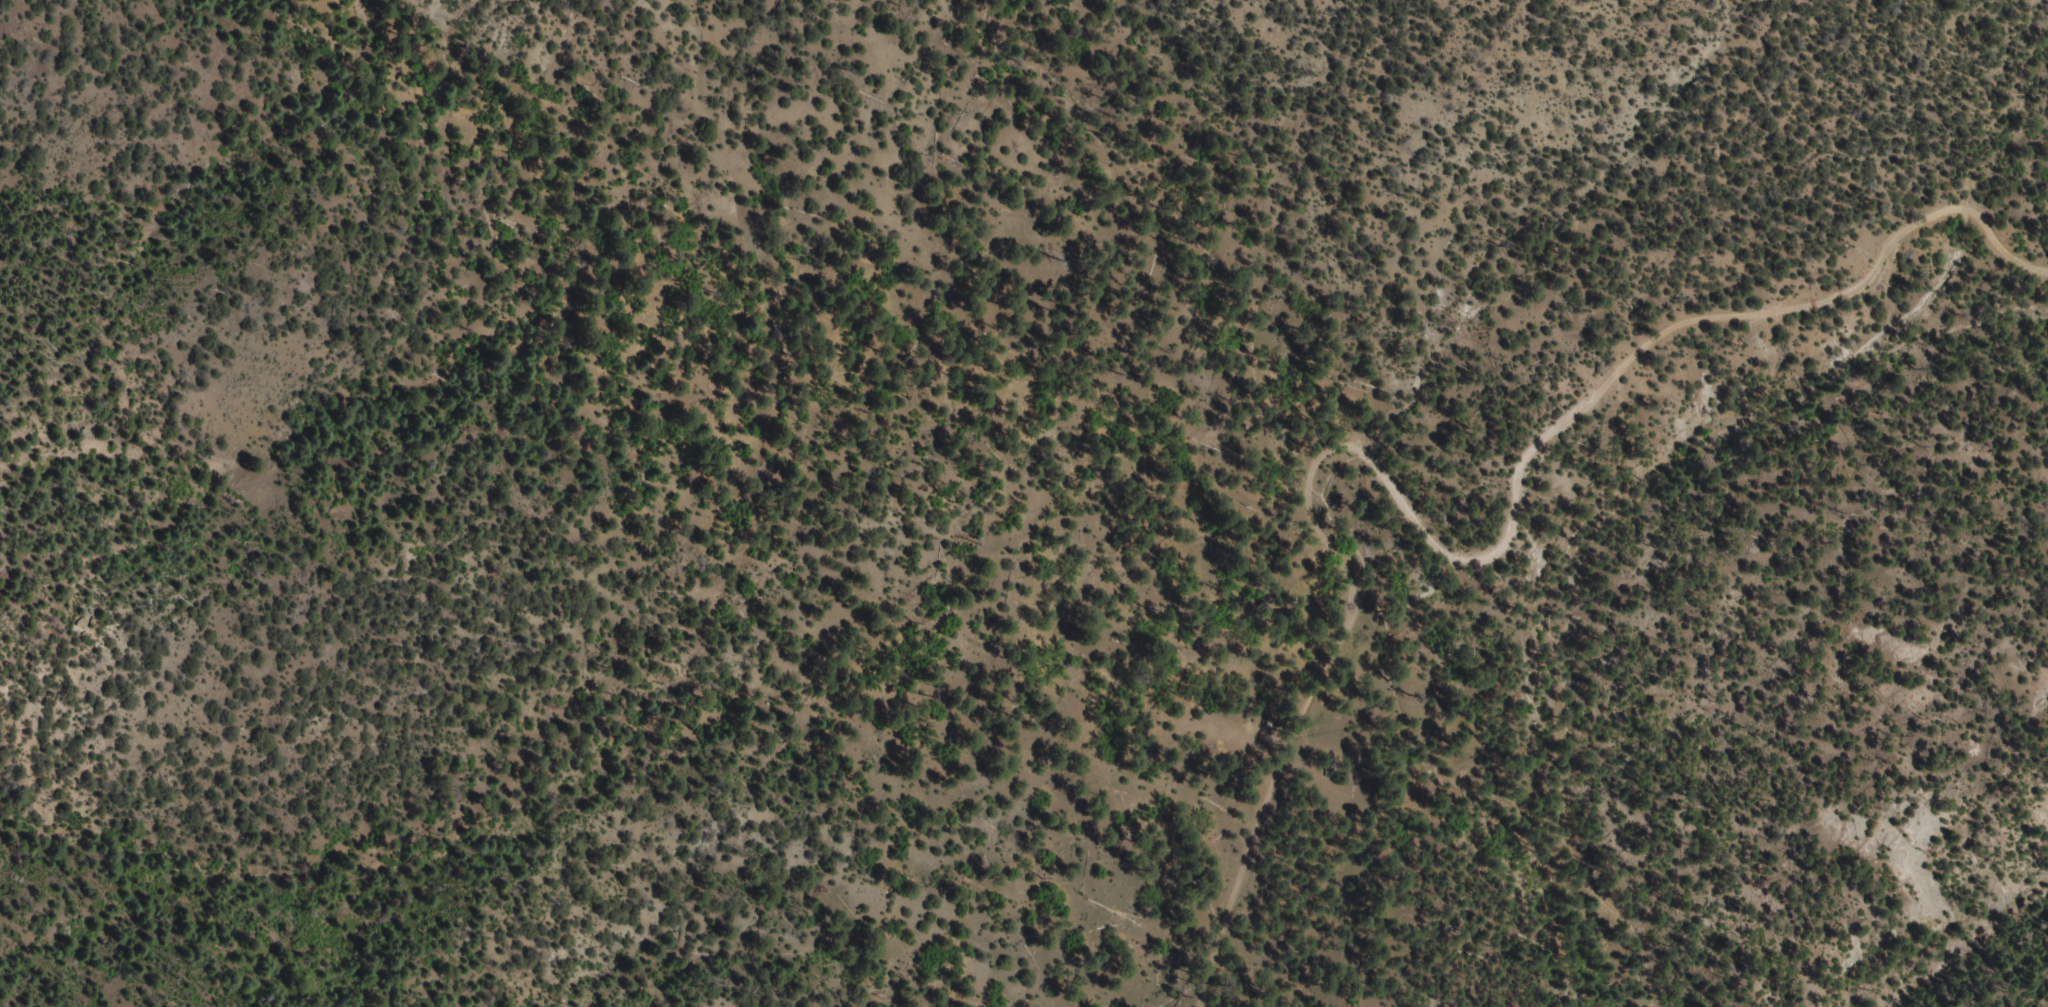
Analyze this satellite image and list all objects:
road: (1989, 150)
road: (1453, 560)
building: (1328, 767)
road: (1488, 830)

